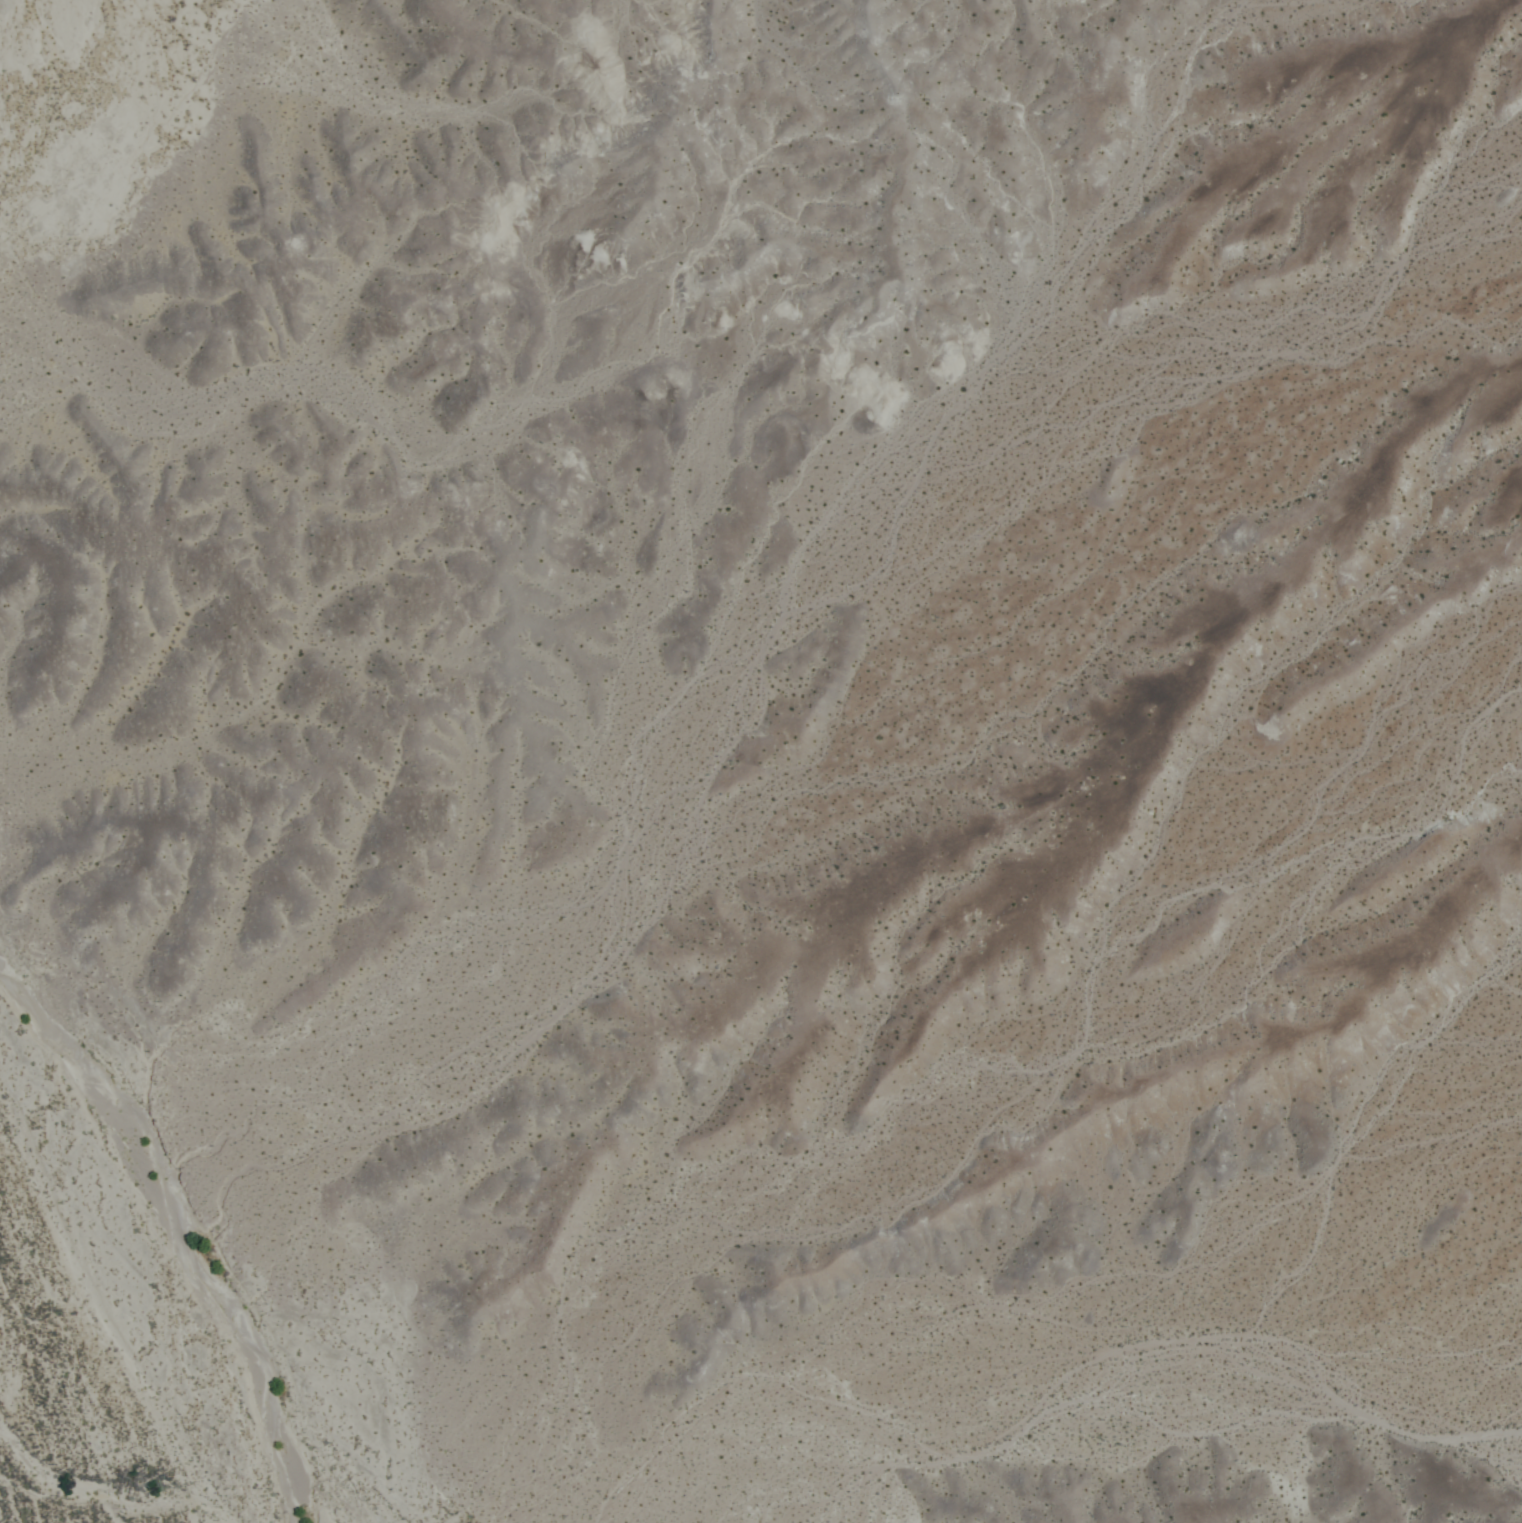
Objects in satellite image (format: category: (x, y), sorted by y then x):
river: (85, 1482)

